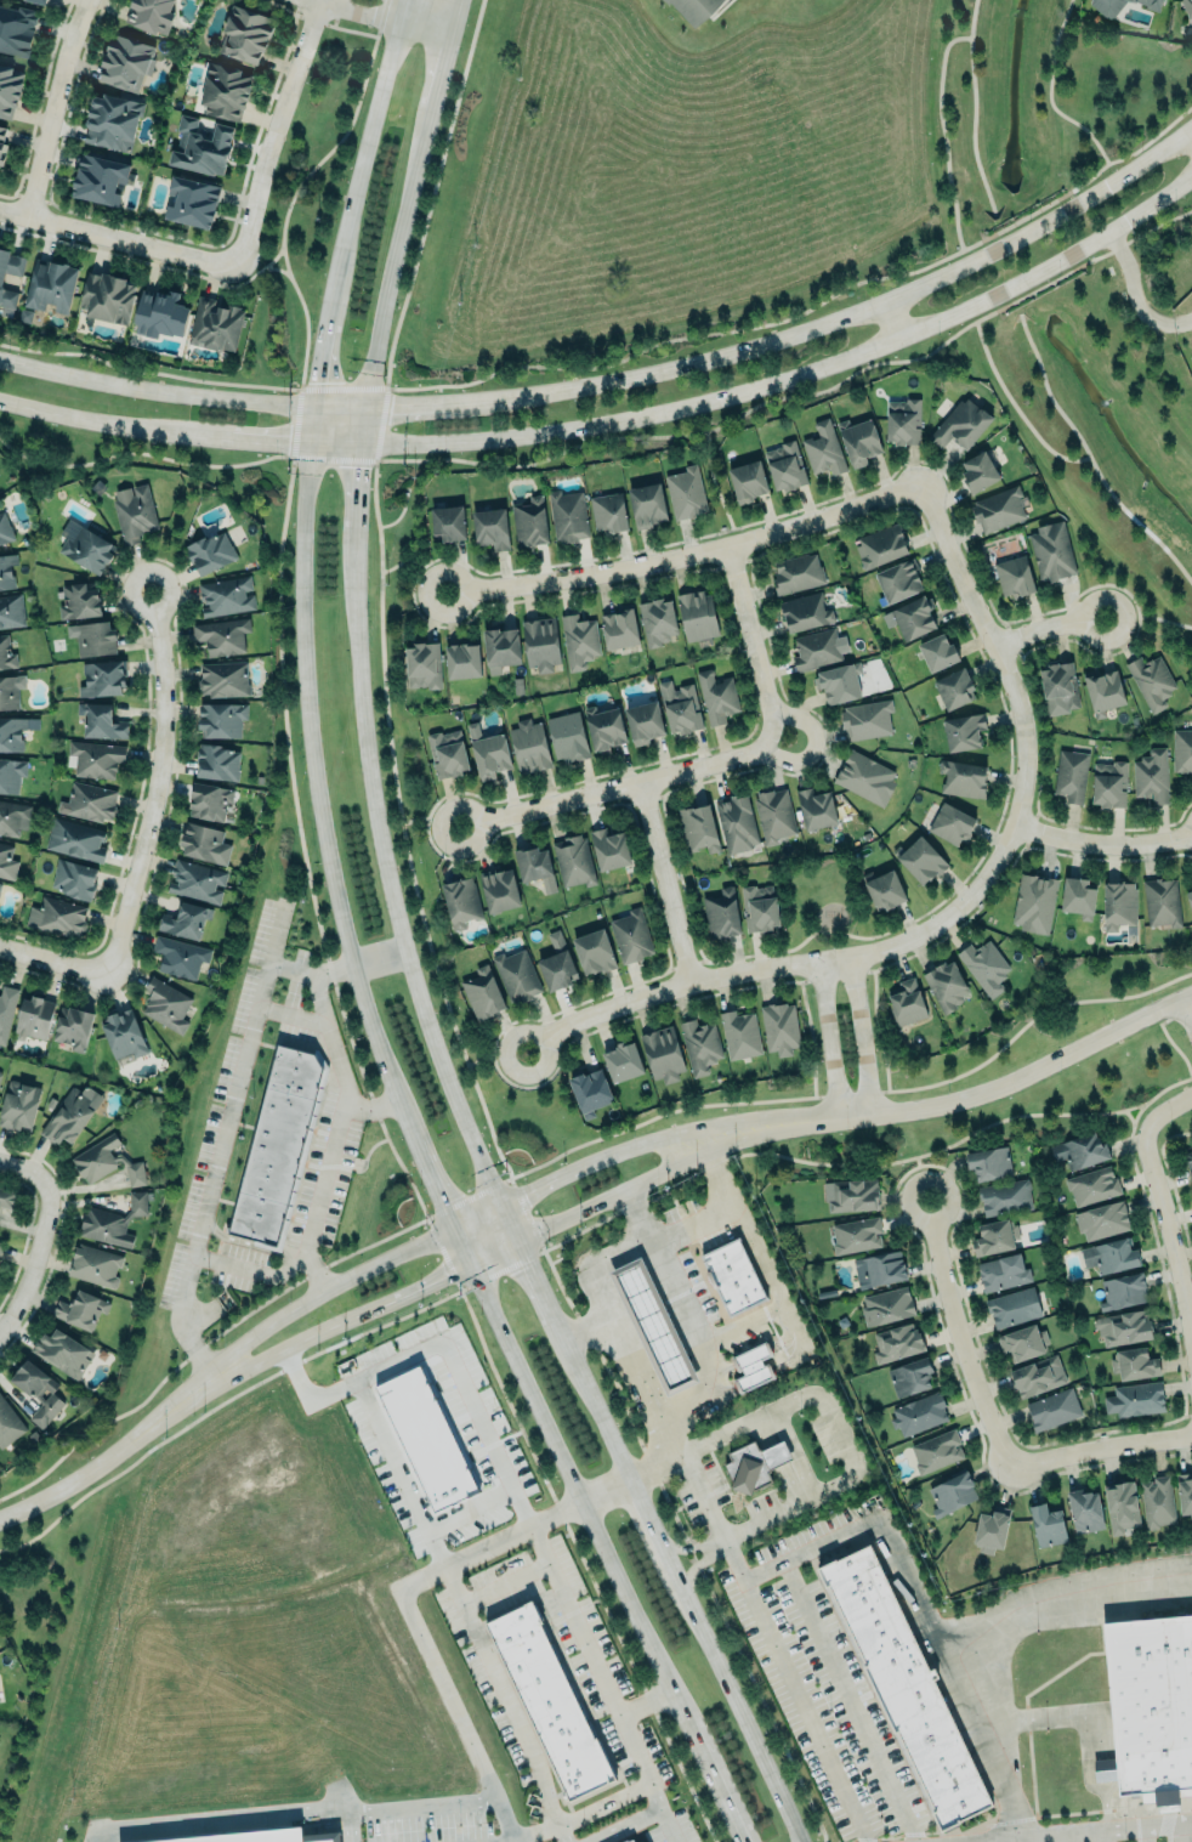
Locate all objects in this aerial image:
building: (1131, 0)
building: (38, 1)
road: (449, 2)
building: (1152, 4)
building: (1107, 6)
building: (1187, 6)
building: (696, 8)
building: (151, 13)
road: (376, 19)
building: (16, 29)
building: (245, 33)
building: (126, 61)
building: (8, 90)
building: (226, 90)
road: (1049, 92)
road: (53, 107)
road: (972, 109)
building: (113, 120)
road: (276, 131)
road: (942, 136)
road: (943, 136)
building: (2, 144)
building: (200, 144)
building: (100, 178)
road: (297, 186)
road: (432, 194)
building: (189, 202)
road: (119, 238)
road: (113, 255)
road: (276, 270)
road: (257, 271)
building: (0, 282)
building: (50, 285)
road: (1135, 295)
building: (107, 297)
road: (810, 307)
building: (160, 312)
road: (891, 323)
building: (215, 325)
wastewater plant: (1182, 330)
road: (147, 372)
road: (621, 382)
road: (385, 390)
road: (800, 395)
traffic signals: (317, 408)
traffic signals: (363, 409)
road: (1014, 409)
road: (621, 420)
building: (904, 421)
building: (961, 424)
building: (859, 440)
traffic signals: (314, 441)
traffic signals: (359, 441)
building: (824, 449)
road: (1090, 460)
building: (785, 465)
building: (978, 471)
building: (748, 480)
road: (714, 491)
building: (686, 492)
building: (647, 504)
building: (999, 509)
building: (135, 511)
building: (608, 511)
building: (567, 515)
building: (448, 521)
building: (529, 521)
building: (492, 527)
building: (5, 528)
building: (881, 545)
building: (84, 546)
building: (210, 551)
building: (1052, 551)
road: (686, 559)
road: (418, 563)
building: (6, 569)
building: (797, 572)
building: (1014, 577)
building: (899, 579)
building: (225, 596)
building: (78, 601)
building: (11, 610)
building: (805, 611)
building: (697, 614)
building: (912, 617)
road: (1147, 618)
building: (657, 620)
building: (620, 628)
road: (1048, 629)
building: (222, 635)
building: (92, 637)
building: (578, 641)
building: (540, 644)
building: (500, 648)
road: (751, 648)
building: (818, 648)
building: (938, 652)
building: (6, 654)
building: (462, 659)
building: (422, 665)
building: (102, 679)
building: (222, 679)
building: (1151, 680)
building: (839, 681)
building: (1060, 687)
building: (954, 688)
building: (10, 690)
building: (1103, 691)
building: (716, 696)
building: (680, 707)
building: (222, 719)
building: (101, 720)
building: (865, 720)
building: (643, 721)
building: (603, 726)
building: (964, 730)
building: (13, 731)
building: (567, 736)
building: (529, 746)
building: (1182, 749)
building: (488, 752)
building: (448, 753)
building: (95, 759)
building: (216, 760)
building: (11, 773)
building: (1072, 775)
building: (1152, 775)
building: (865, 777)
building: (963, 778)
building: (1109, 783)
road: (159, 786)
road: (618, 787)
building: (89, 801)
building: (208, 801)
building: (816, 807)
building: (773, 815)
building: (13, 817)
road: (430, 818)
building: (736, 822)
building: (952, 823)
building: (698, 828)
building: (75, 839)
building: (205, 843)
building: (608, 848)
road: (1103, 848)
building: (921, 860)
building: (6, 861)
building: (573, 861)
building: (535, 867)
building: (73, 879)
building: (197, 882)
road: (666, 882)
building: (884, 889)
building: (499, 890)
building: (1078, 896)
building: (1190, 897)
building: (1162, 901)
building: (461, 902)
building: (1035, 902)
building: (1118, 905)
building: (759, 907)
road: (959, 909)
building: (721, 913)
building: (57, 916)
building: (185, 920)
building: (631, 935)
building: (594, 951)
road: (352, 953)
road: (407, 954)
building: (180, 956)
road: (55, 960)
road: (358, 962)
building: (557, 963)
building: (984, 967)
building: (517, 976)
building: (947, 986)
building: (482, 993)
building: (906, 1002)
building: (165, 1004)
building: (6, 1010)
road: (1187, 1010)
road: (294, 1015)
building: (34, 1018)
road: (874, 1024)
road: (1026, 1025)
building: (72, 1027)
building: (779, 1027)
road: (808, 1028)
building: (123, 1033)
building: (739, 1035)
road: (862, 1037)
road: (828, 1042)
building: (699, 1044)
building: (662, 1054)
road: (495, 1058)
building: (621, 1061)
building: (0, 1073)
building: (590, 1092)
road: (370, 1103)
road: (949, 1103)
building: (18, 1105)
building: (70, 1113)
building: (278, 1144)
road: (222, 1145)
building: (1080, 1150)
road: (335, 1152)
road: (915, 1156)
building: (106, 1161)
building: (1188, 1162)
building: (989, 1163)
road: (29, 1172)
road: (404, 1175)
road: (509, 1178)
building: (1092, 1185)
traffic signals: (527, 1194)
building: (851, 1196)
building: (1005, 1196)
building: (7, 1197)
traffic signals: (441, 1201)
road: (1163, 1205)
road: (727, 1206)
building: (1102, 1220)
building: (112, 1222)
road: (441, 1234)
building: (856, 1235)
road: (388, 1237)
building: (995, 1237)
building: (0, 1245)
building: (1111, 1256)
road: (40, 1260)
traffic signals: (527, 1264)
building: (95, 1265)
building: (880, 1268)
building: (1003, 1271)
road: (316, 1273)
road: (462, 1275)
building: (734, 1275)
traffic signals: (447, 1282)
building: (1124, 1290)
road: (681, 1291)
road: (613, 1305)
building: (886, 1305)
building: (1014, 1307)
building: (80, 1309)
road: (750, 1322)
building: (653, 1324)
gas station: (653, 1324)
building: (1123, 1327)
road: (592, 1331)
road: (961, 1338)
road: (444, 1341)
building: (897, 1342)
building: (1023, 1343)
building: (62, 1353)
building: (1134, 1364)
building: (754, 1365)
building: (1037, 1376)
building: (910, 1377)
building: (39, 1392)
building: (1136, 1399)
building: (1054, 1409)
road: (825, 1410)
building: (919, 1413)
building: (8, 1424)
building: (426, 1438)
road: (1099, 1450)
building: (936, 1451)
road: (114, 1453)
building: (776, 1453)
building: (748, 1468)
road: (397, 1470)
road: (606, 1491)
building: (952, 1494)
building: (1185, 1494)
building: (1158, 1502)
building: (1120, 1507)
road: (470, 1508)
building: (1085, 1511)
building: (1046, 1525)
building: (991, 1531)
road: (688, 1547)
road: (733, 1560)
road: (698, 1566)
road: (505, 1582)
road: (1058, 1591)
road: (405, 1603)
road: (925, 1625)
road: (591, 1653)
building: (908, 1685)
road: (503, 1693)
building: (551, 1700)
road: (851, 1702)
road: (643, 1704)
building: (1153, 1706)
road: (807, 1711)
road: (1039, 1723)
road: (317, 1808)
road: (663, 1810)
road: (583, 1815)
road: (350, 1825)
road: (625, 1825)
road: (1105, 1826)
road: (1186, 1831)
road: (560, 1832)
road: (1145, 1832)
road: (1102, 1835)
road: (1063, 1836)
road: (1017, 1837)
building: (630, 1841)
building: (643, 1841)

